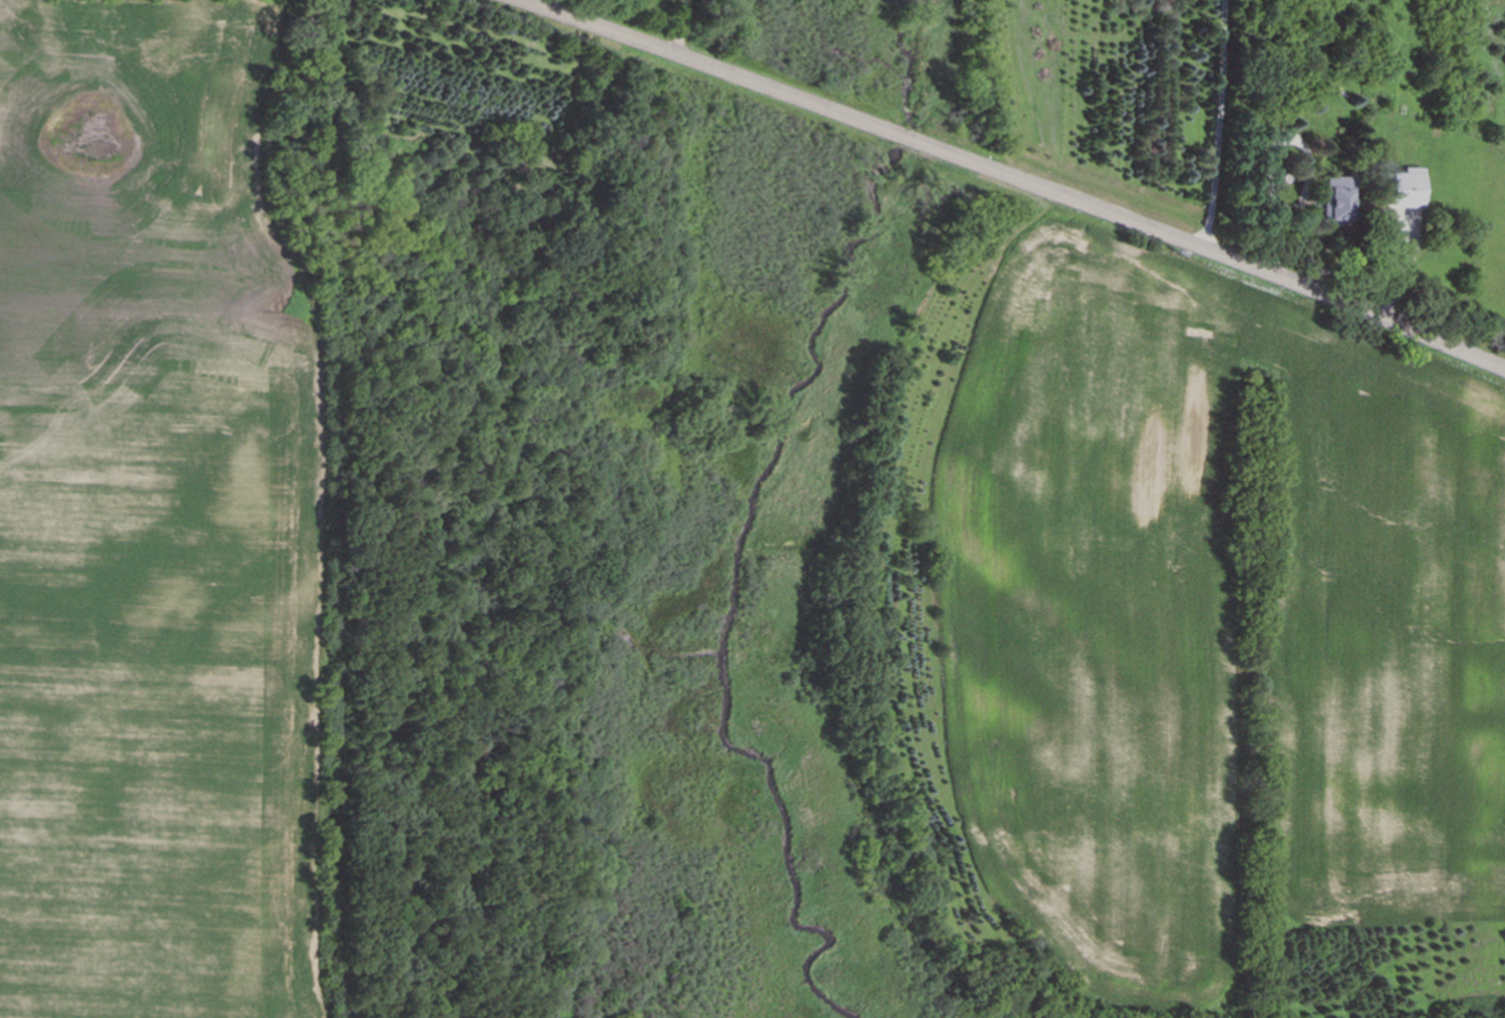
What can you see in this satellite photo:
road: (1220, 126)
road: (1015, 180)
building: (1407, 188)
building: (1338, 198)

